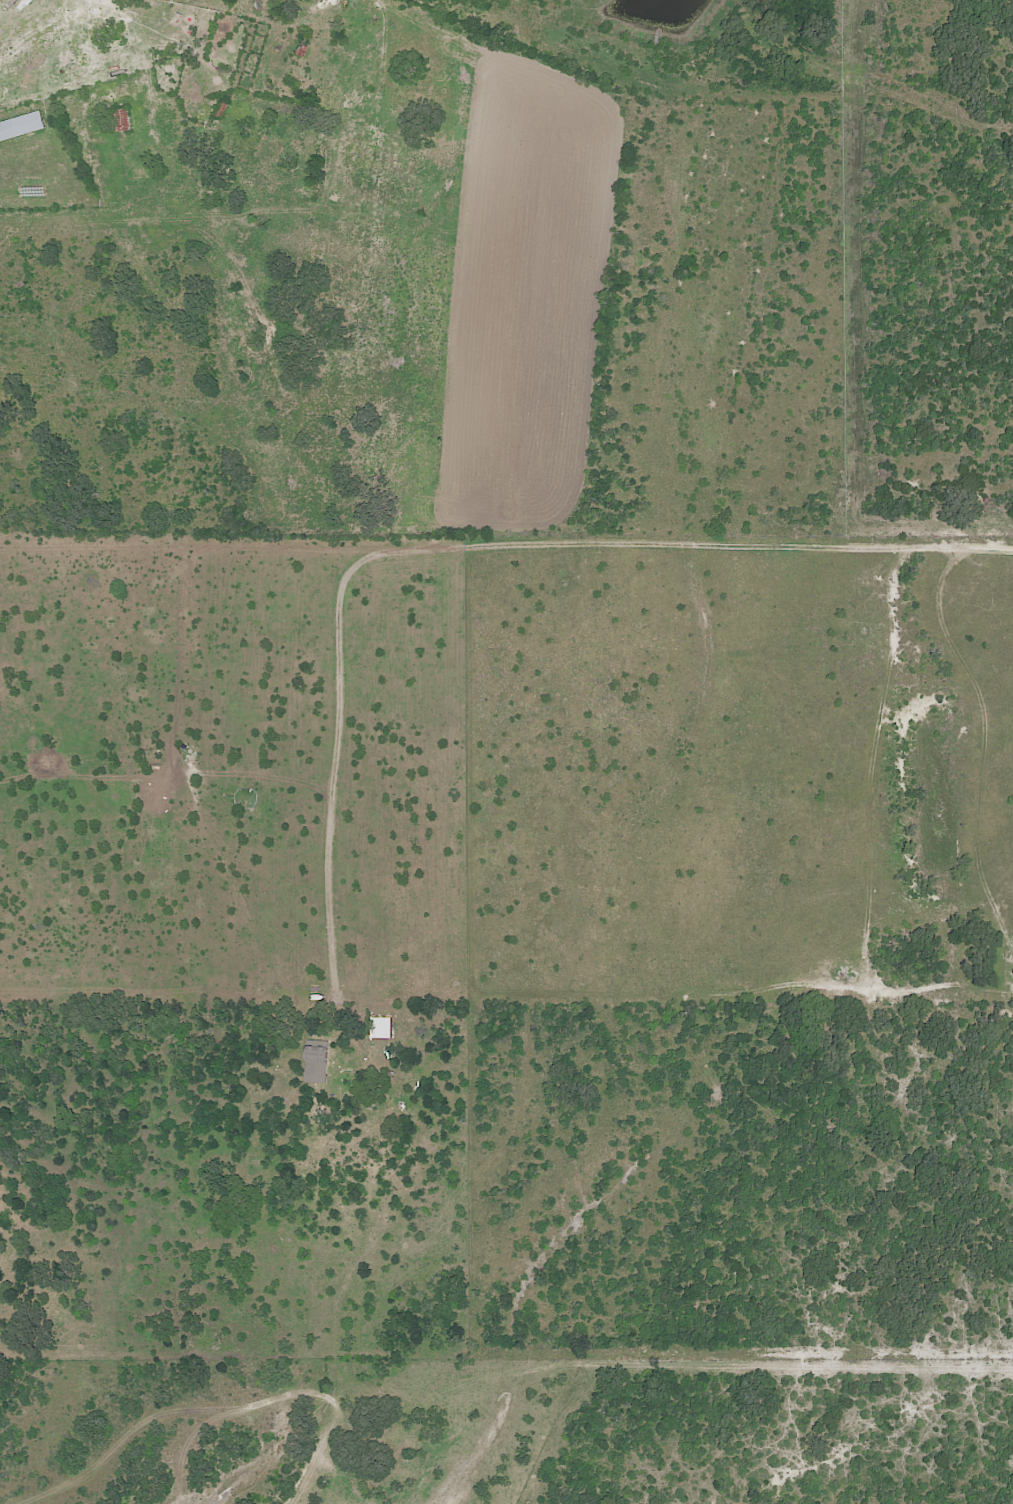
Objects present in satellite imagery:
building: (22, 126)
road: (481, 541)
building: (381, 1027)
building: (316, 1064)
road: (263, 1414)

